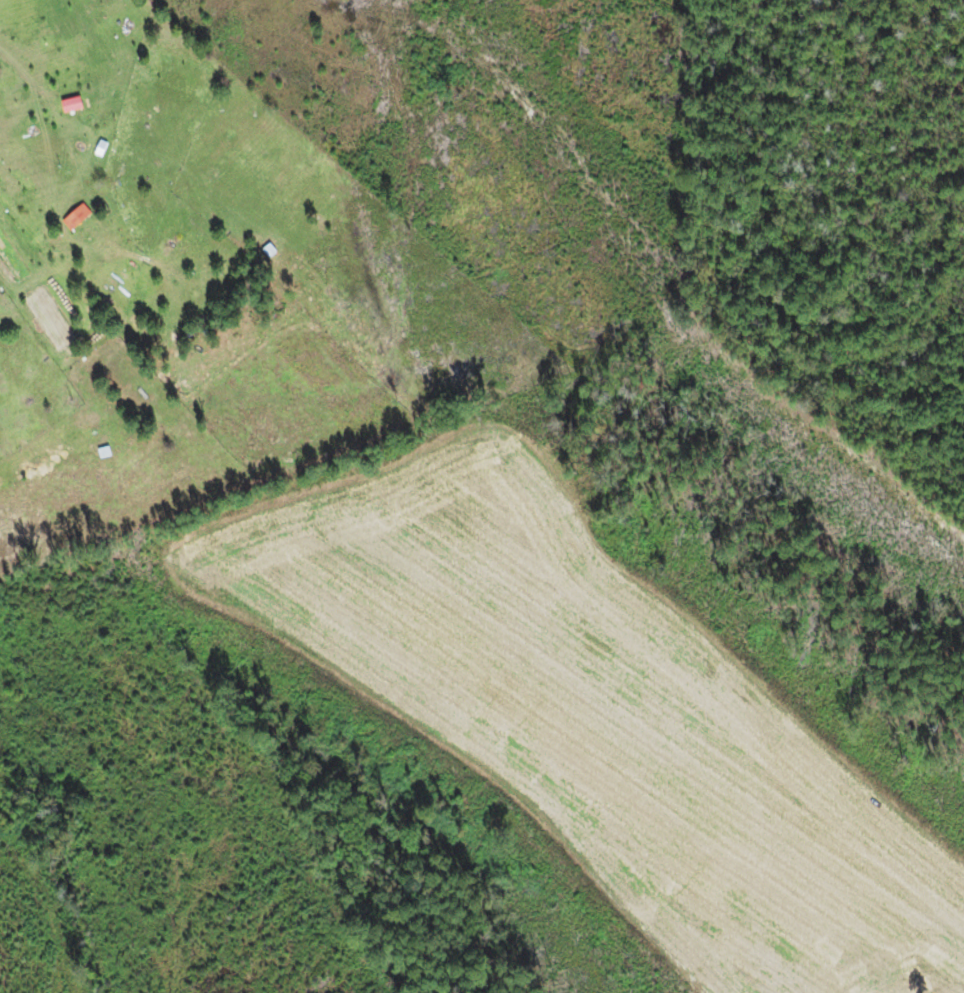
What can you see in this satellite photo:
building: (101, 108)
road: (34, 145)

